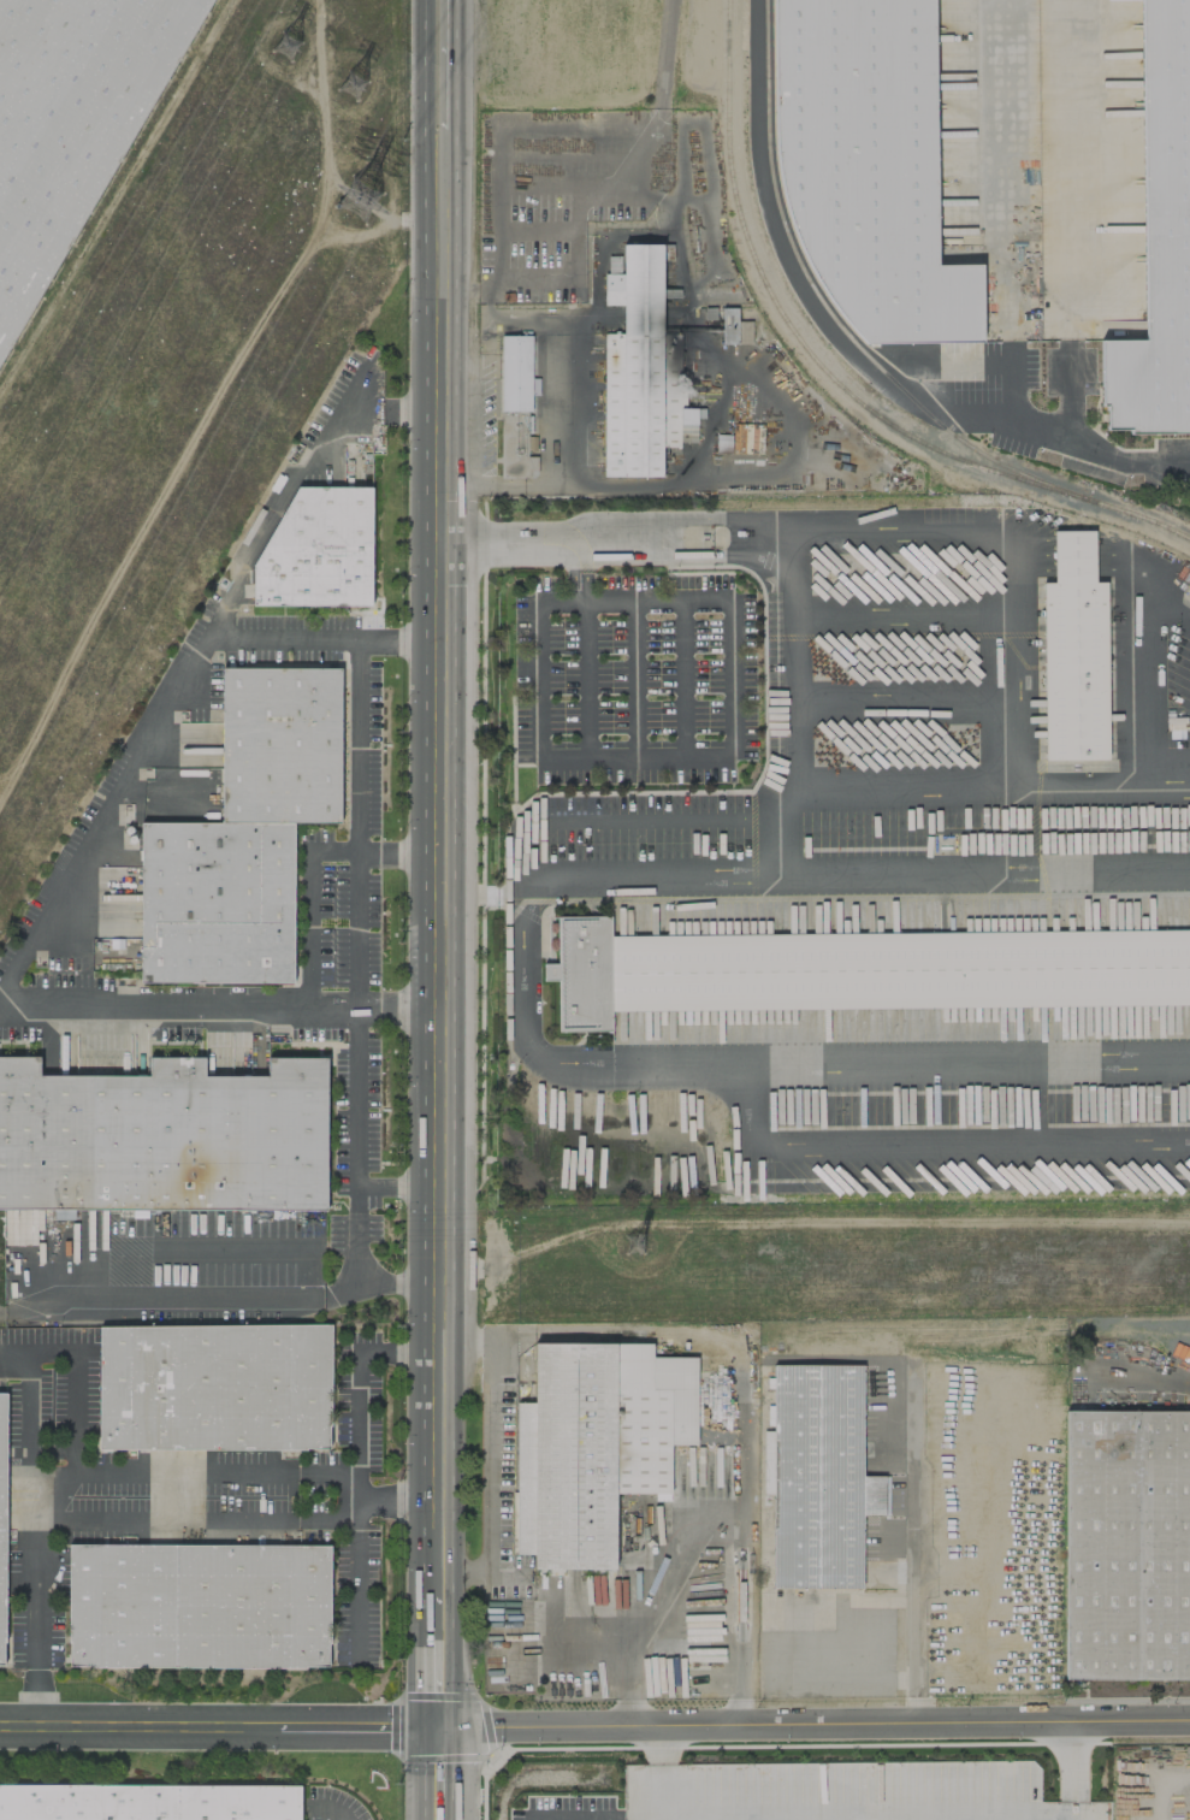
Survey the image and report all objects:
power tower: (292, 46)
road: (440, 64)
power tower: (350, 87)
building: (71, 119)
building: (866, 165)
power tower: (378, 203)
road: (1010, 212)
road: (1062, 220)
building: (1159, 240)
building: (612, 264)
railway: (825, 301)
road: (845, 348)
building: (640, 371)
railway: (828, 374)
road: (754, 389)
building: (515, 407)
road: (904, 539)
road: (616, 542)
building: (318, 550)
road: (1093, 555)
road: (905, 613)
building: (1073, 654)
road: (1017, 664)
road: (1145, 673)
road: (681, 675)
road: (634, 676)
road: (539, 681)
road: (905, 702)
road: (703, 752)
road: (1081, 785)
road: (1167, 785)
road: (905, 786)
road: (629, 820)
road: (356, 821)
building: (243, 833)
road: (397, 852)
road: (438, 857)
road: (993, 875)
road: (52, 896)
building: (857, 970)
road: (5, 994)
road: (522, 995)
building: (162, 1136)
road: (924, 1140)
road: (396, 1183)
power tower: (626, 1249)
road: (393, 1281)
road: (330, 1293)
railway: (933, 1329)
railway: (987, 1335)
road: (355, 1370)
road: (1143, 1381)
building: (214, 1387)
building: (594, 1444)
road: (486, 1454)
road: (289, 1472)
building: (819, 1478)
road: (396, 1501)
road: (57, 1514)
building: (2, 1518)
building: (1126, 1544)
road: (908, 1548)
building: (199, 1606)
road: (637, 1615)
road: (438, 1657)
road: (813, 1724)
road: (219, 1727)
road: (1071, 1771)
building: (831, 1772)
road: (437, 1774)
building: (149, 1802)
building: (1082, 1810)
road: (827, 1818)

